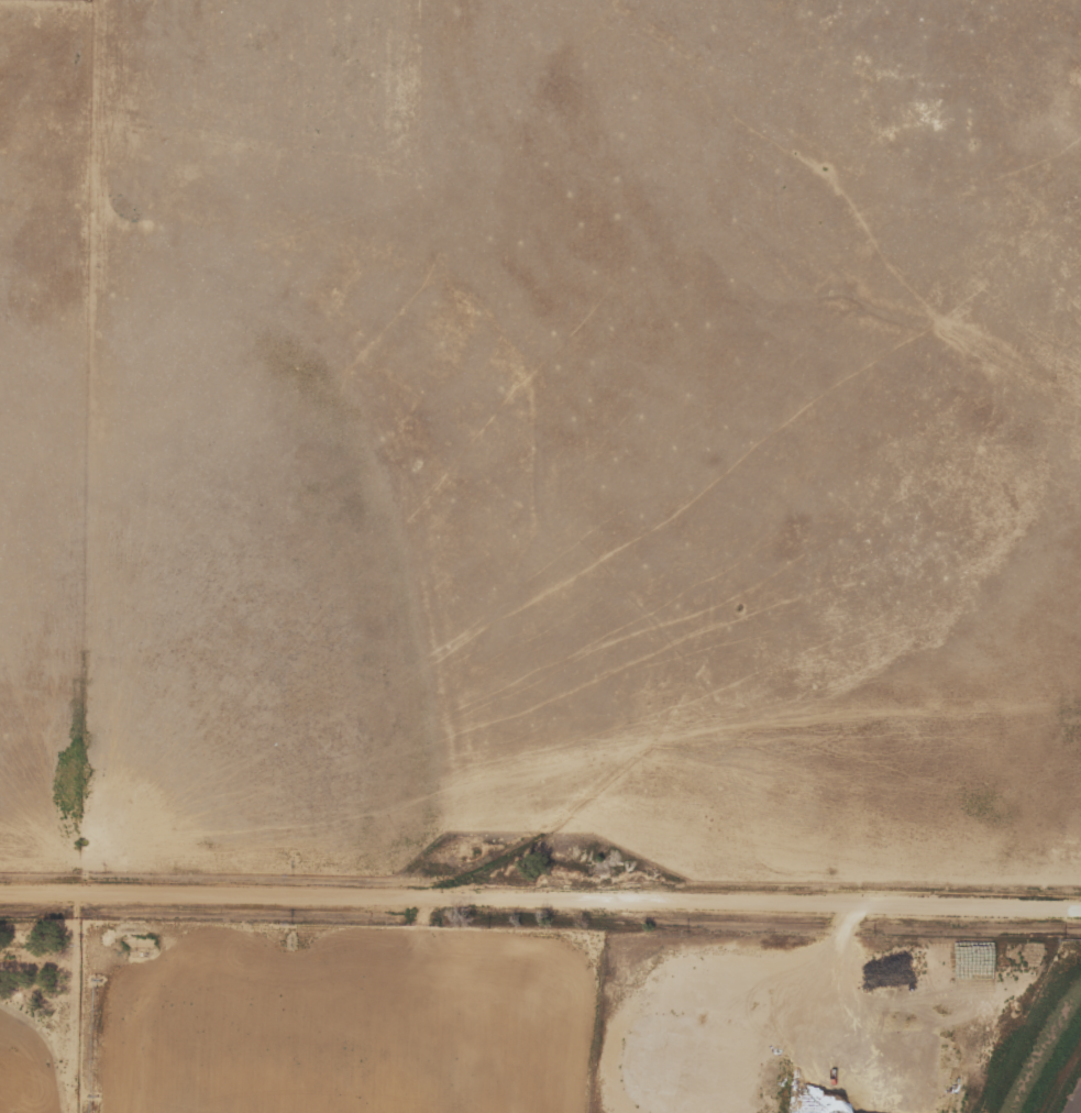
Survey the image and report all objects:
road: (540, 897)

